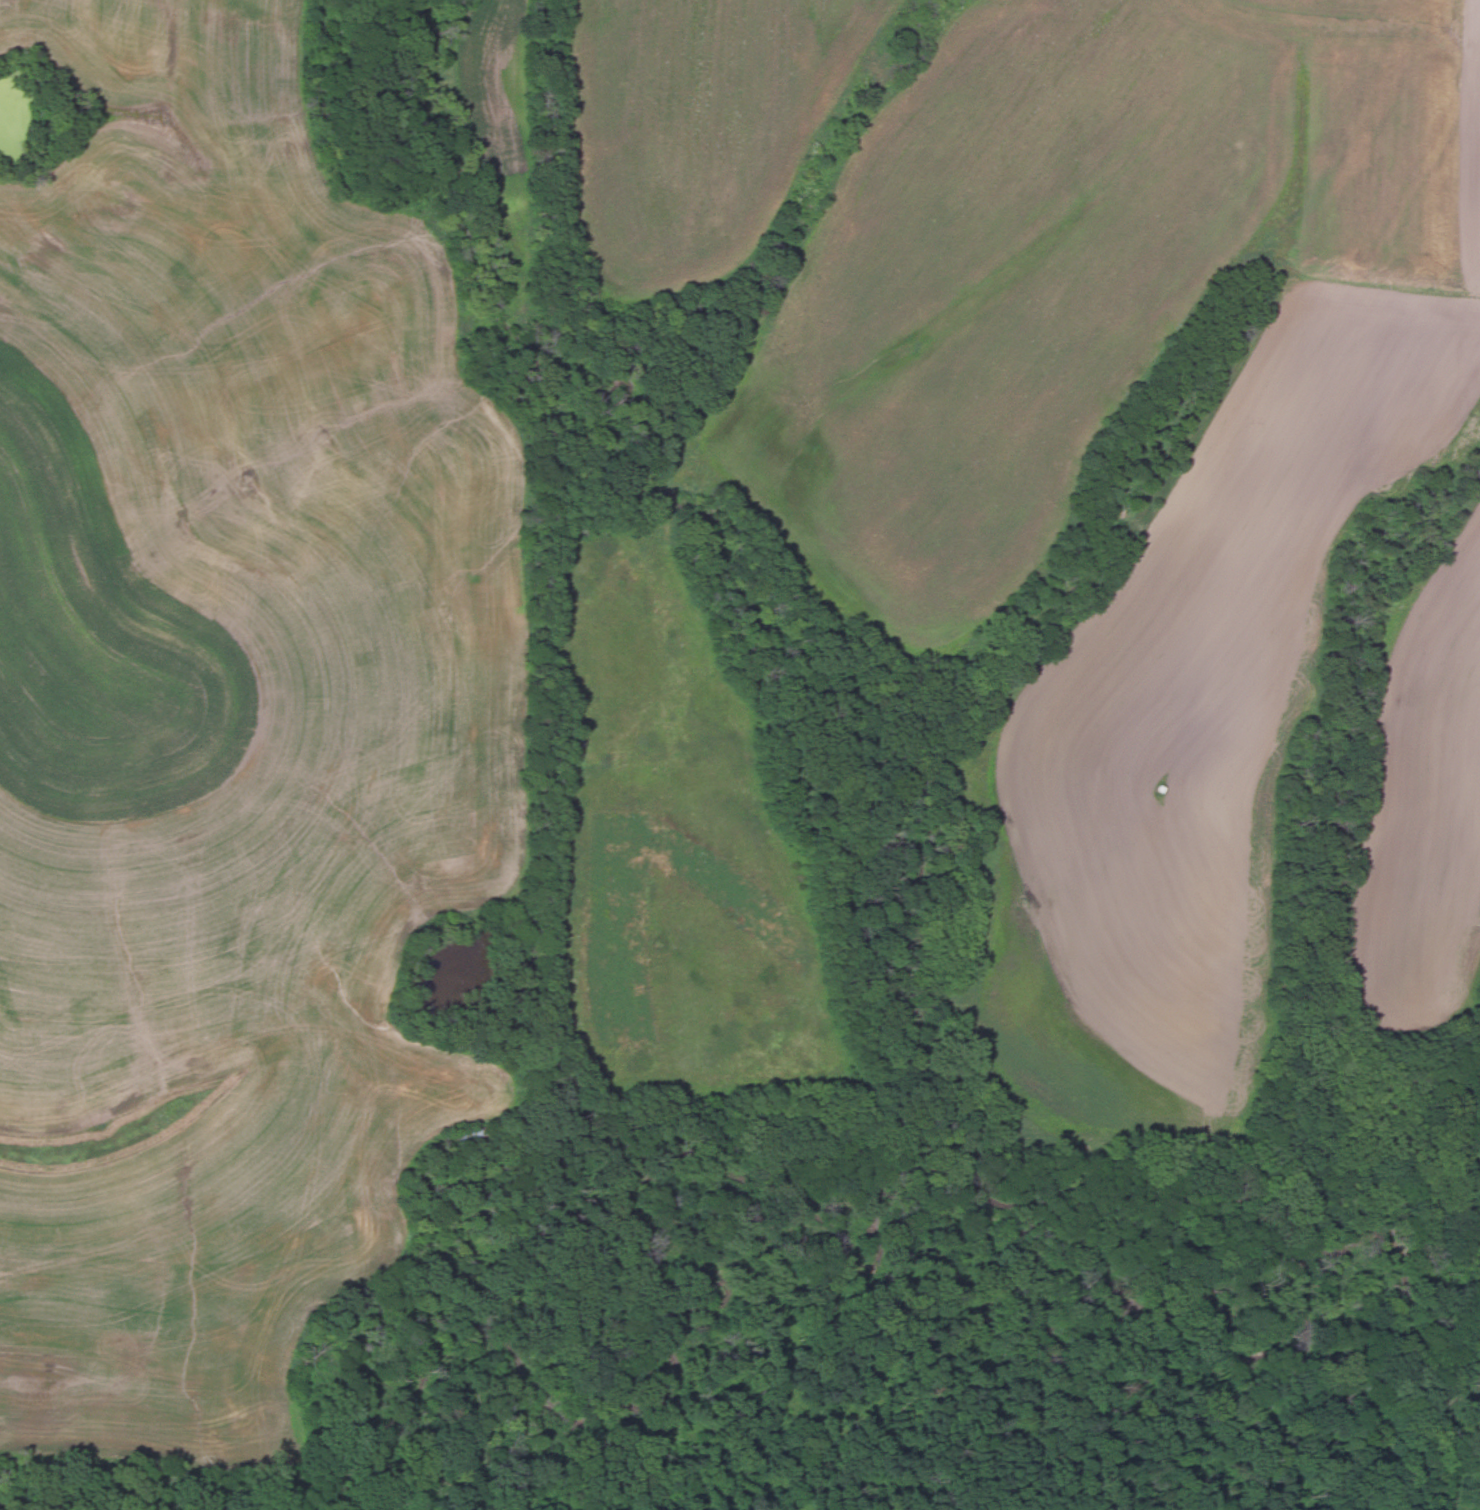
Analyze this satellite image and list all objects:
building: (468, 1136)

